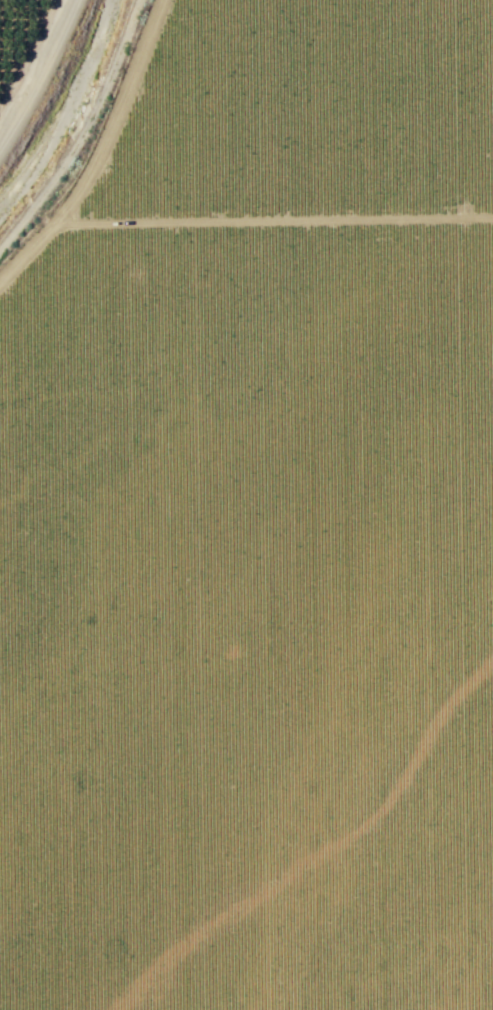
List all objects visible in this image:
road: (41, 73)
road: (83, 131)

